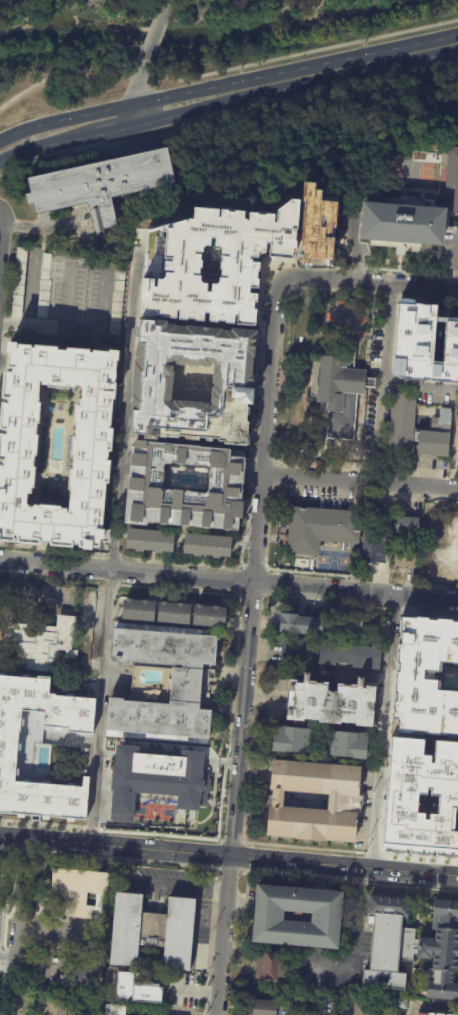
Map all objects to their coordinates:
road: (12, 1)
road: (158, 25)
park: (160, 37)
road: (356, 60)
road: (221, 72)
road: (137, 87)
road: (126, 106)
road: (128, 126)
park: (410, 170)
building: (411, 171)
building: (452, 175)
building: (99, 184)
building: (316, 215)
building: (405, 219)
road: (42, 220)
road: (48, 226)
road: (455, 258)
building: (221, 262)
road: (336, 280)
road: (424, 287)
building: (117, 302)
road: (79, 331)
building: (424, 343)
road: (268, 378)
building: (155, 382)
road: (381, 384)
road: (420, 385)
building: (341, 390)
building: (404, 424)
building: (438, 437)
building: (96, 448)
building: (457, 448)
road: (316, 480)
building: (148, 487)
road: (414, 488)
road: (456, 491)
building: (409, 526)
building: (437, 528)
road: (255, 529)
building: (318, 530)
road: (114, 538)
building: (379, 540)
building: (152, 541)
building: (209, 546)
building: (455, 550)
building: (407, 557)
building: (435, 560)
road: (56, 566)
road: (181, 577)
road: (321, 589)
road: (418, 597)
road: (451, 600)
building: (140, 611)
building: (176, 614)
building: (211, 617)
building: (300, 622)
building: (348, 625)
building: (45, 646)
building: (330, 651)
road: (243, 670)
building: (185, 680)
building: (429, 690)
building: (331, 700)
road: (381, 733)
building: (289, 738)
building: (348, 742)
road: (165, 751)
building: (8, 752)
building: (408, 773)
building: (138, 792)
building: (347, 804)
building: (454, 807)
road: (230, 808)
building: (442, 823)
building: (457, 823)
building: (418, 831)
building: (440, 839)
road: (228, 859)
building: (79, 889)
road: (223, 901)
building: (268, 915)
road: (17, 927)
road: (54, 928)
building: (151, 930)
building: (411, 946)
building: (270, 964)
road: (331, 965)
building: (80, 975)
road: (217, 979)
building: (168, 987)
building: (118, 990)
building: (401, 1003)
building: (56, 1006)
building: (263, 1006)
building: (115, 1009)
building: (435, 1013)
building: (87, 1014)

